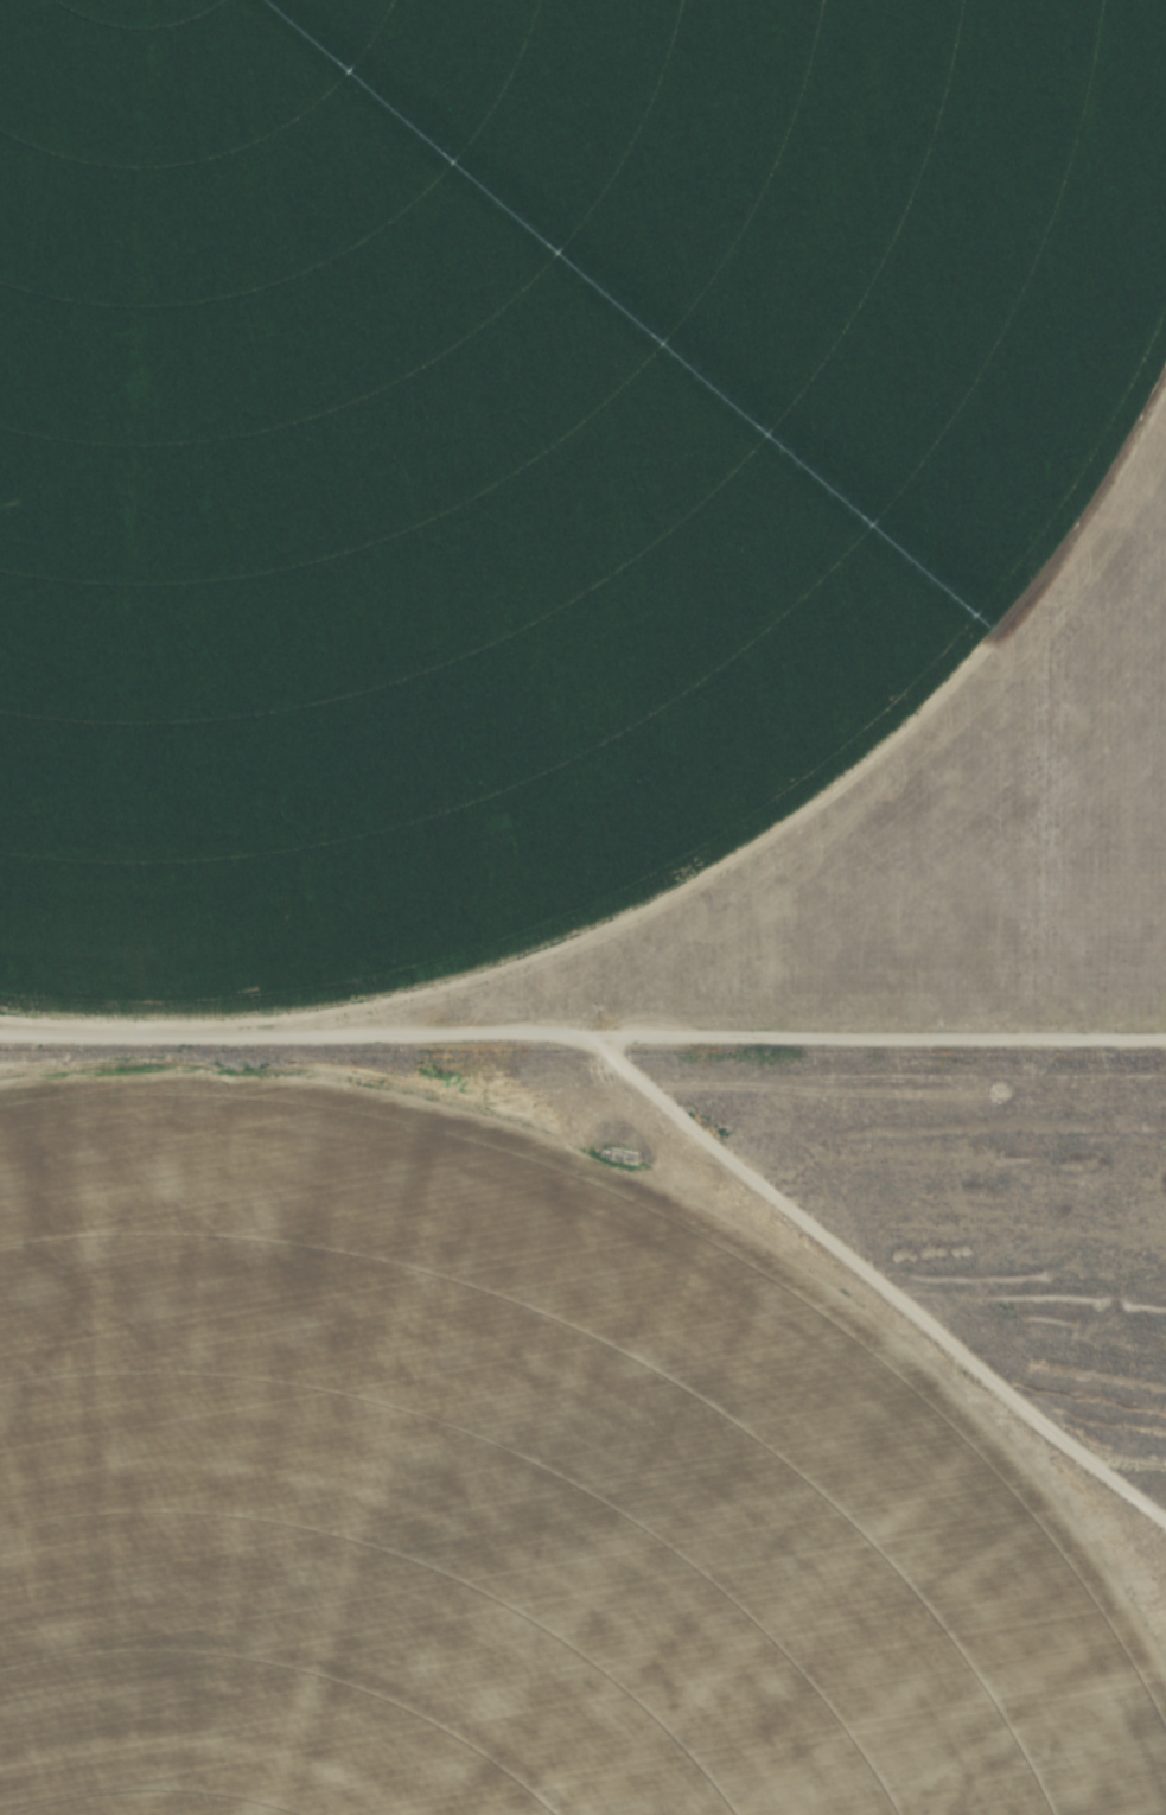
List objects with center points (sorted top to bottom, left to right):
crop: (515, 433)
crop: (479, 1521)

